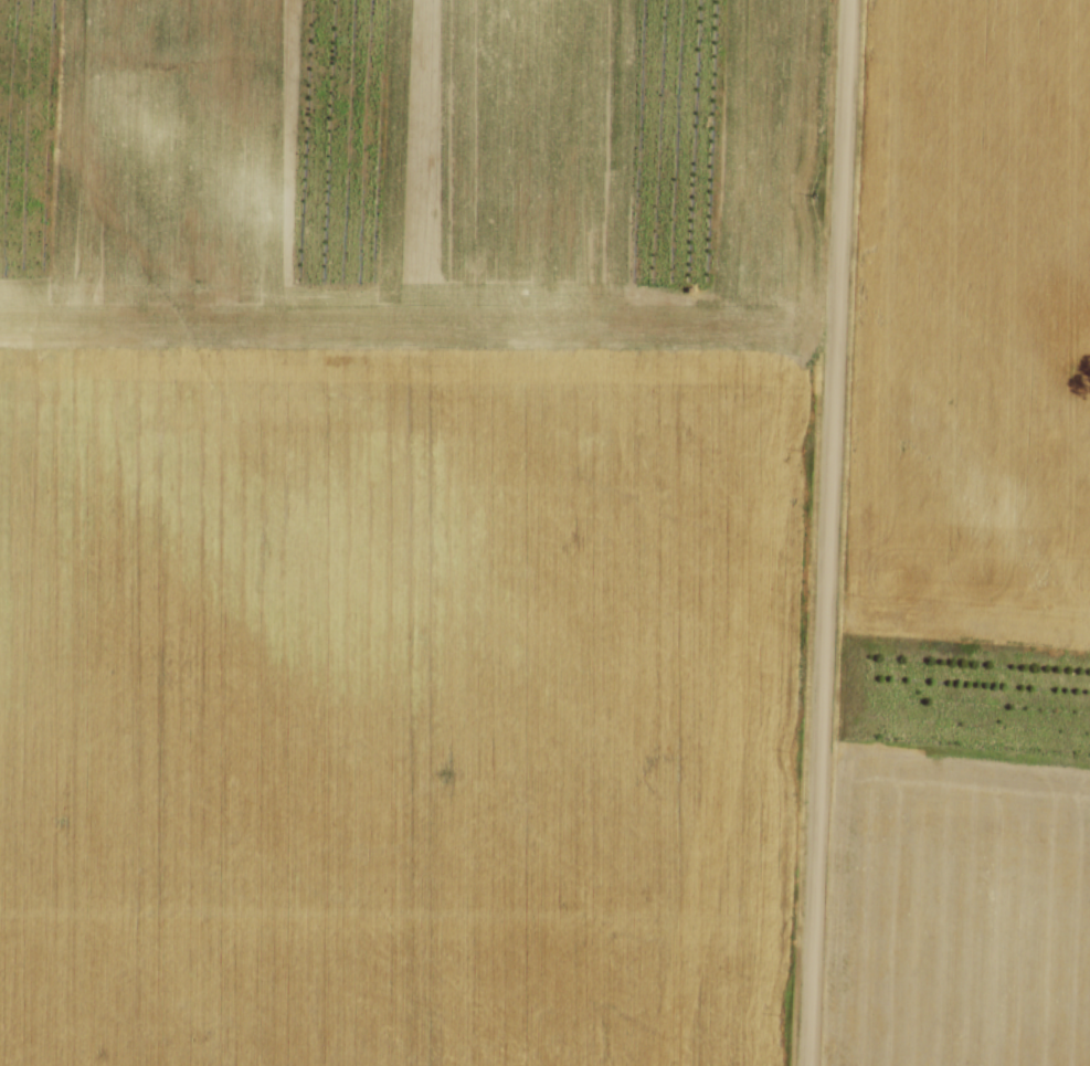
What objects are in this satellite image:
crop: (400, 527)
road: (824, 532)
crop: (966, 536)

